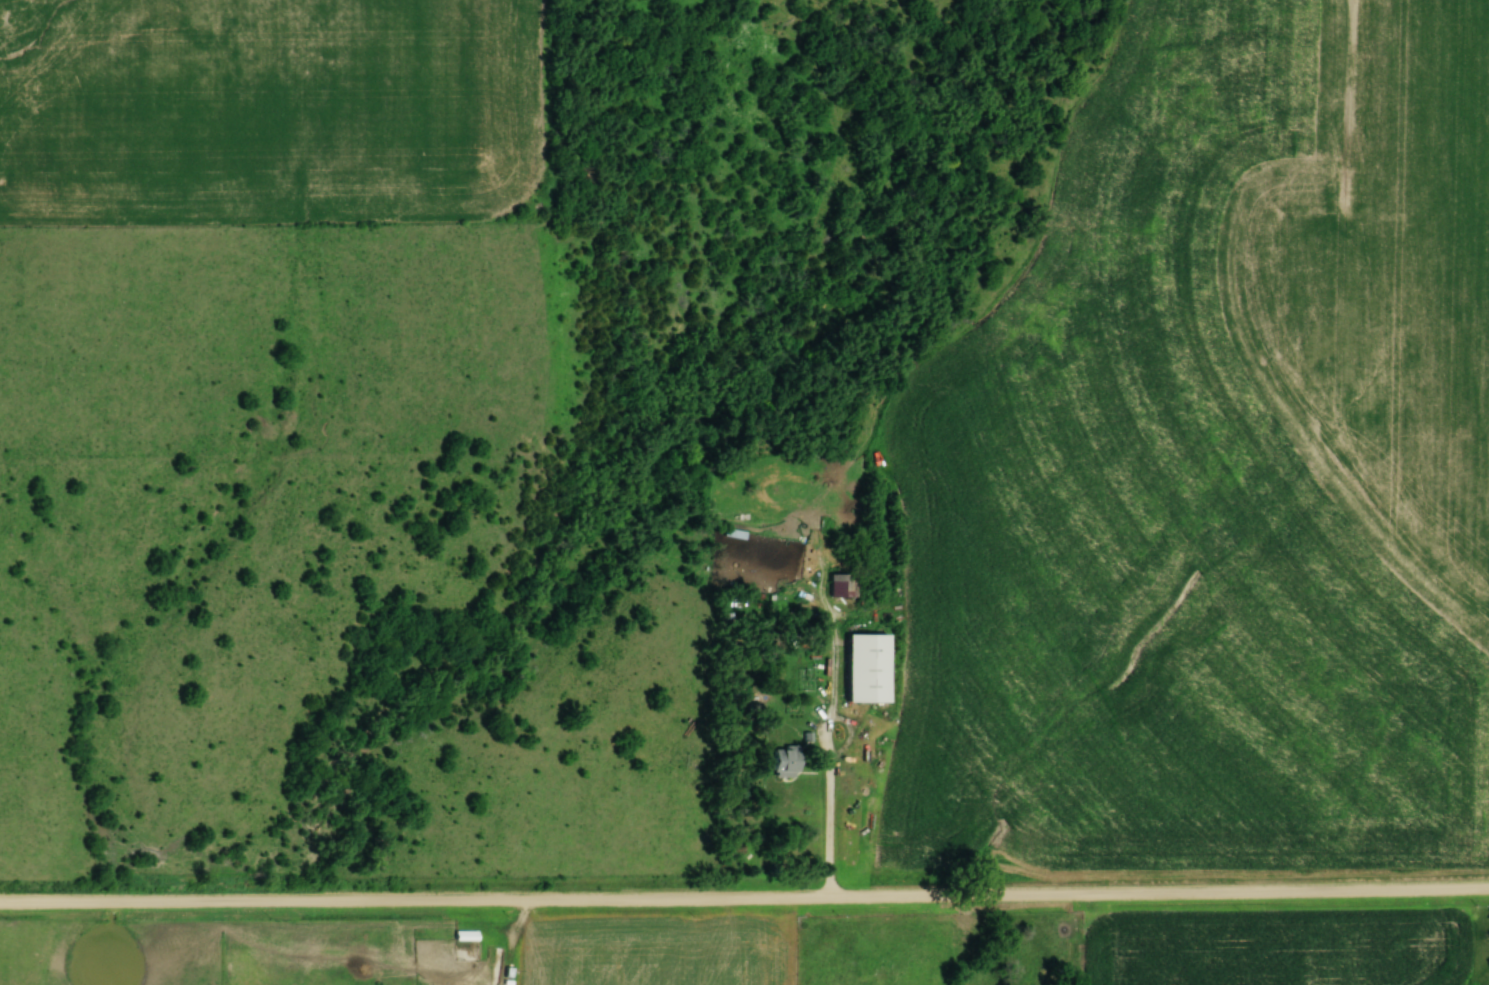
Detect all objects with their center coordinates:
building: (733, 533)
building: (841, 585)
building: (860, 667)
road: (828, 723)
building: (779, 762)
road: (744, 898)
building: (462, 935)

